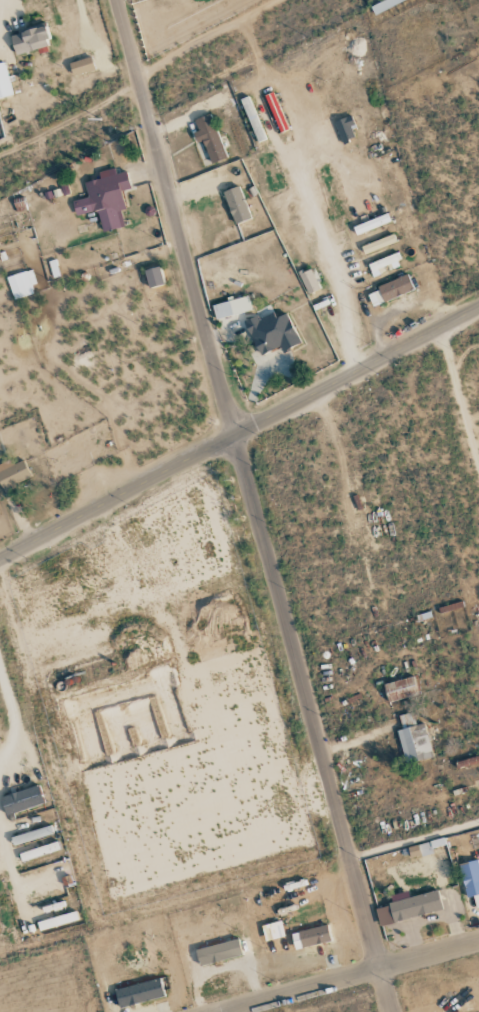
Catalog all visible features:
building: (385, 3)
building: (30, 39)
building: (81, 65)
building: (4, 82)
building: (275, 111)
building: (345, 128)
building: (209, 138)
building: (104, 198)
building: (236, 204)
building: (371, 224)
building: (378, 243)
building: (382, 262)
building: (153, 277)
building: (308, 280)
building: (21, 284)
building: (389, 290)
building: (231, 307)
building: (272, 332)
road: (239, 433)
building: (12, 474)
road: (255, 506)
building: (400, 689)
road: (13, 720)
building: (413, 739)
building: (21, 800)
building: (31, 835)
building: (424, 848)
building: (39, 851)
road: (12, 863)
building: (470, 879)
building: (407, 908)
building: (57, 920)
building: (272, 931)
building: (310, 937)
building: (218, 952)
road: (352, 976)
building: (139, 992)

